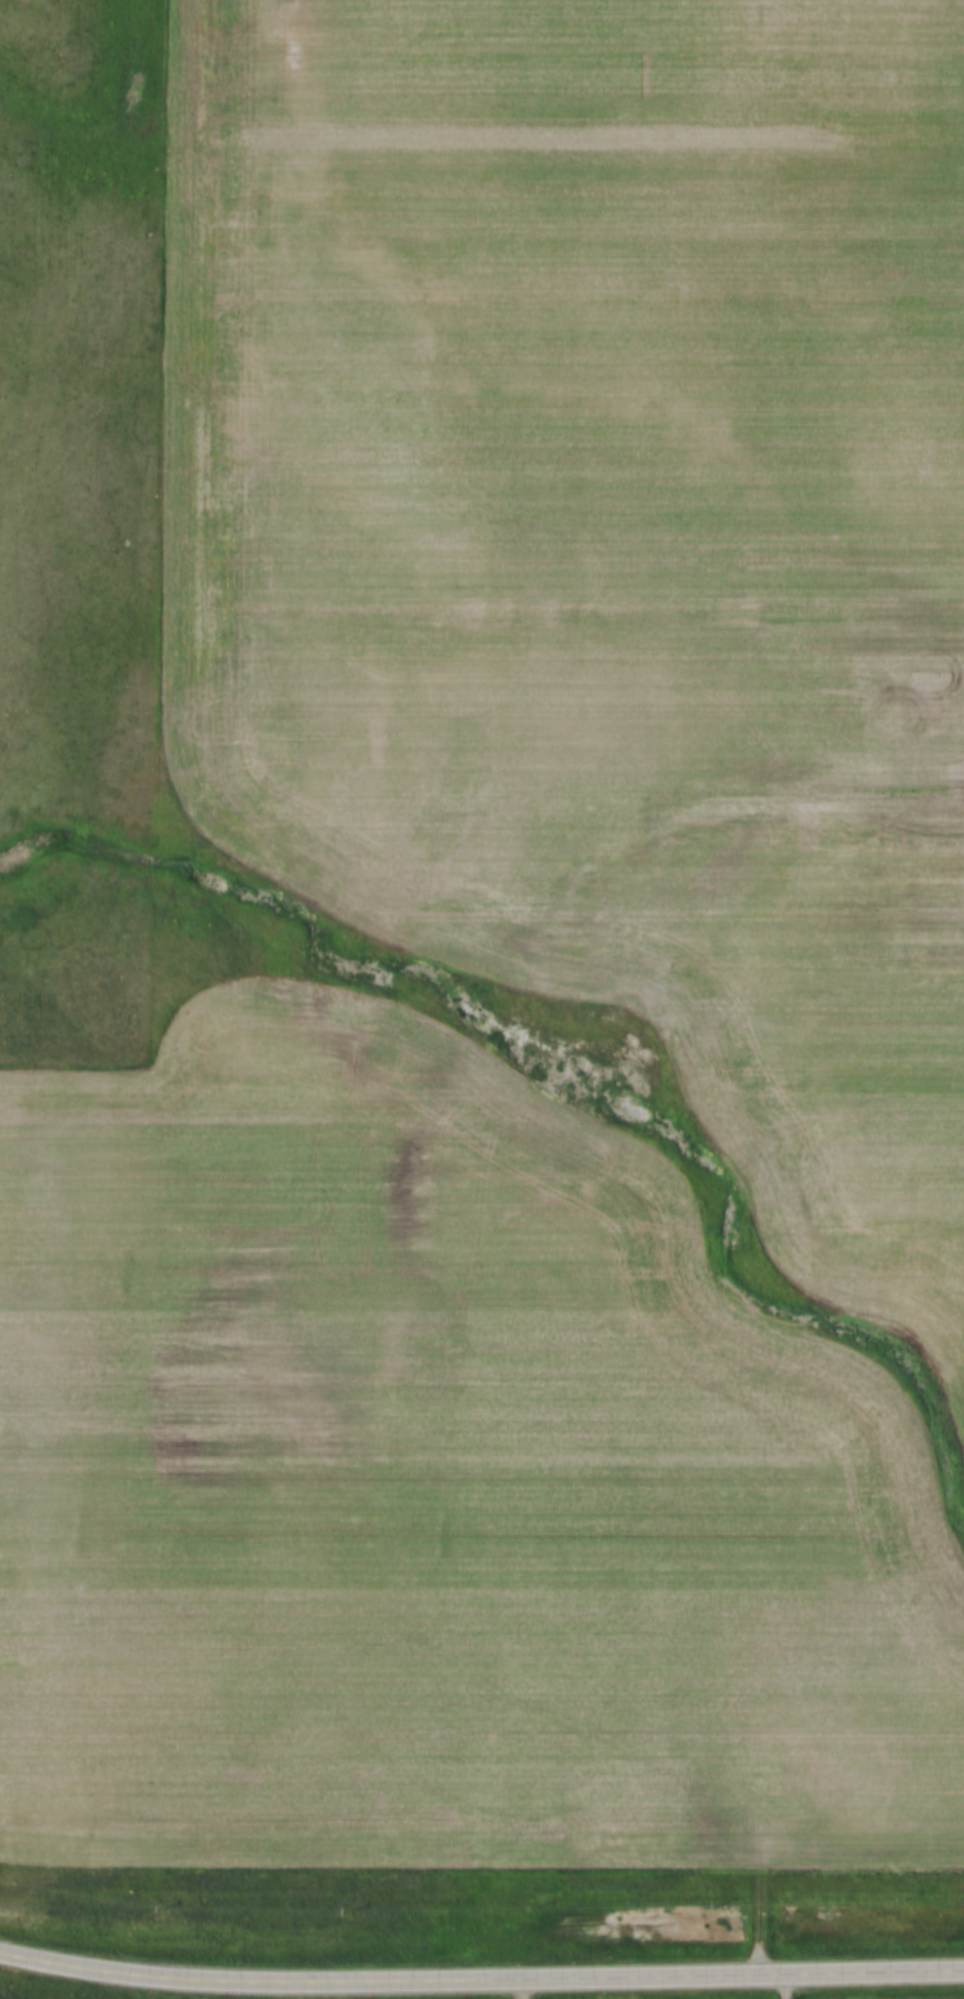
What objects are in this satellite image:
road: (818, 1969)
road: (334, 1977)
road: (793, 1984)

